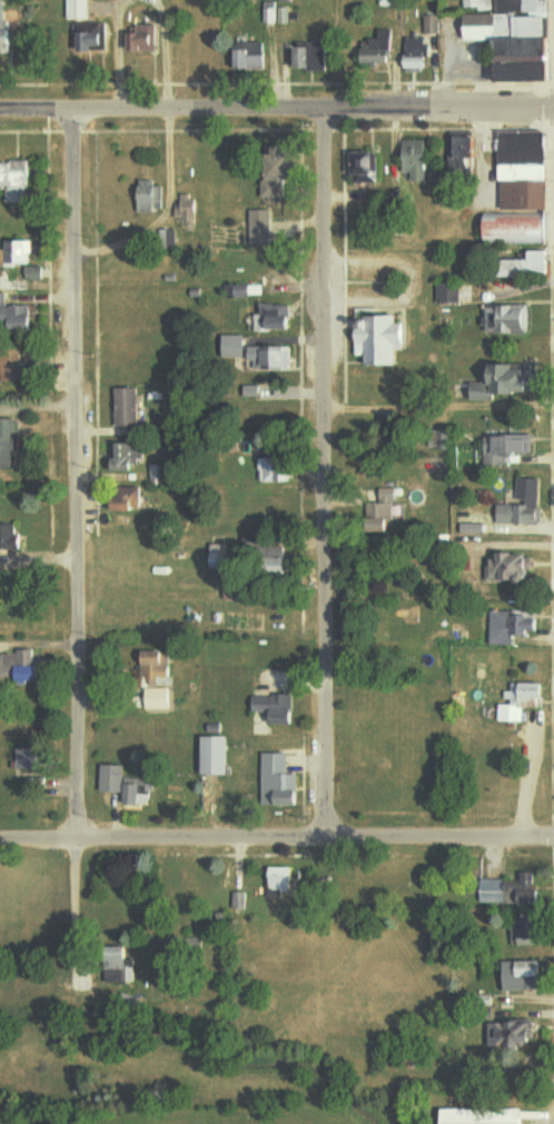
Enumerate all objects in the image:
building: (536, 6)
building: (79, 9)
building: (276, 14)
building: (431, 24)
building: (483, 27)
building: (4, 29)
building: (91, 37)
building: (144, 38)
building: (378, 48)
building: (530, 52)
building: (416, 53)
building: (251, 57)
building: (314, 57)
road: (276, 107)
road: (550, 107)
building: (522, 129)
building: (523, 147)
building: (464, 150)
building: (416, 159)
building: (367, 163)
building: (280, 173)
building: (19, 181)
building: (150, 196)
building: (186, 209)
building: (260, 227)
building: (518, 229)
building: (17, 253)
building: (530, 265)
building: (33, 272)
building: (249, 290)
building: (448, 292)
building: (16, 316)
building: (276, 317)
building: (508, 320)
building: (382, 339)
building: (259, 354)
building: (10, 367)
building: (506, 381)
building: (128, 407)
building: (7, 444)
building: (507, 447)
building: (127, 457)
building: (276, 470)
road: (323, 471)
road: (75, 475)
road: (552, 477)
building: (389, 495)
building: (132, 501)
building: (523, 505)
building: (386, 513)
building: (474, 528)
building: (7, 537)
building: (513, 568)
building: (512, 626)
building: (155, 666)
building: (23, 667)
building: (158, 698)
building: (522, 702)
building: (277, 708)
building: (218, 756)
building: (280, 782)
building: (126, 784)
road: (276, 836)
road: (553, 837)
building: (281, 882)
building: (513, 889)
building: (239, 901)
building: (528, 931)
building: (524, 975)
building: (520, 1035)
building: (466, 1116)
crop: (34, 1122)

